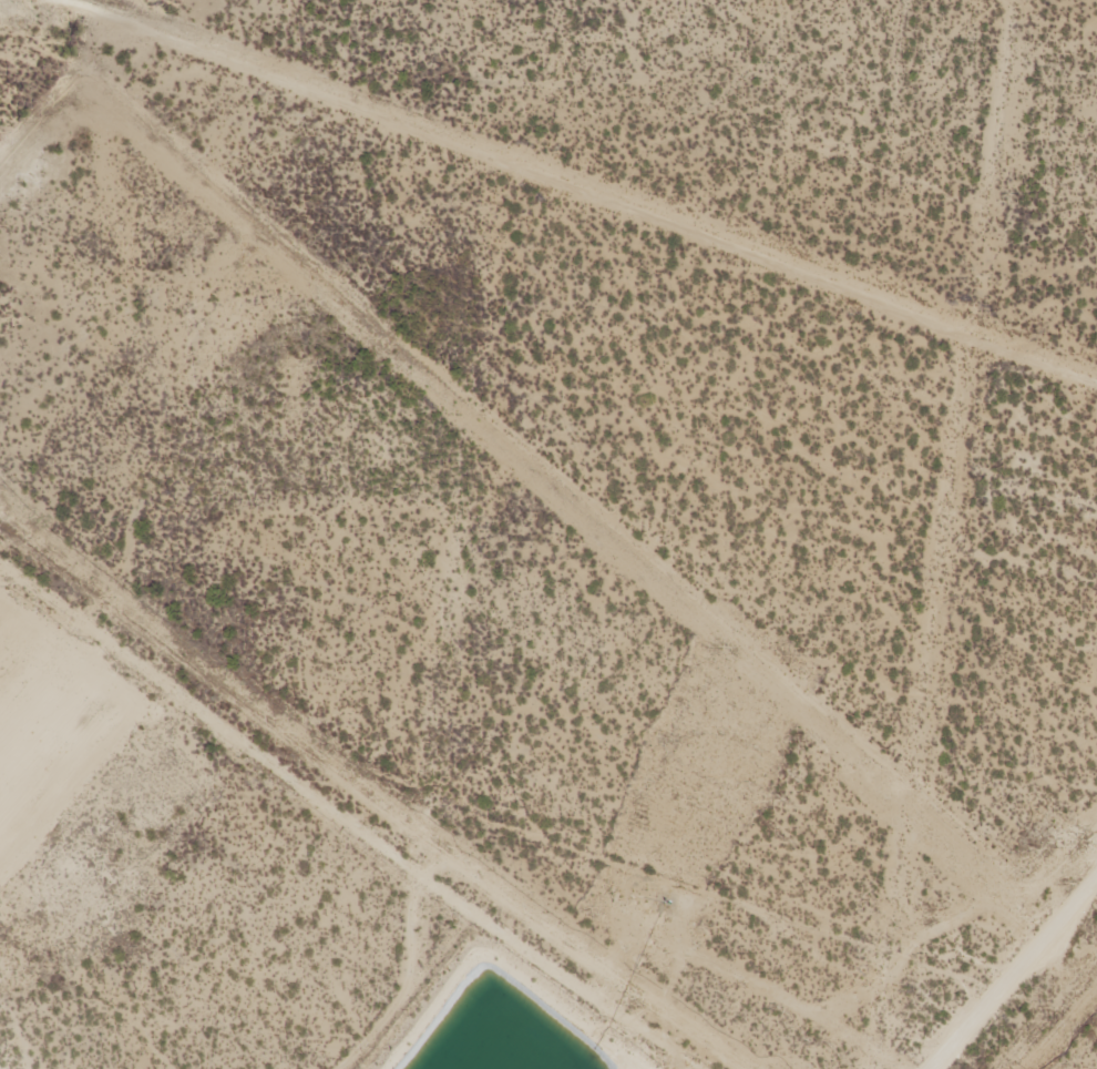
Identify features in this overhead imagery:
road: (547, 805)
road: (1015, 973)

